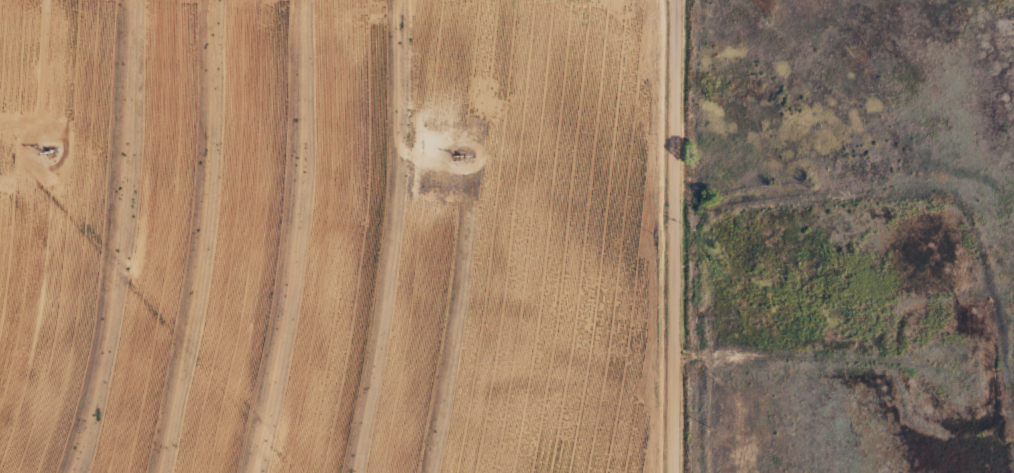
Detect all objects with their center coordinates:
road: (678, 236)

